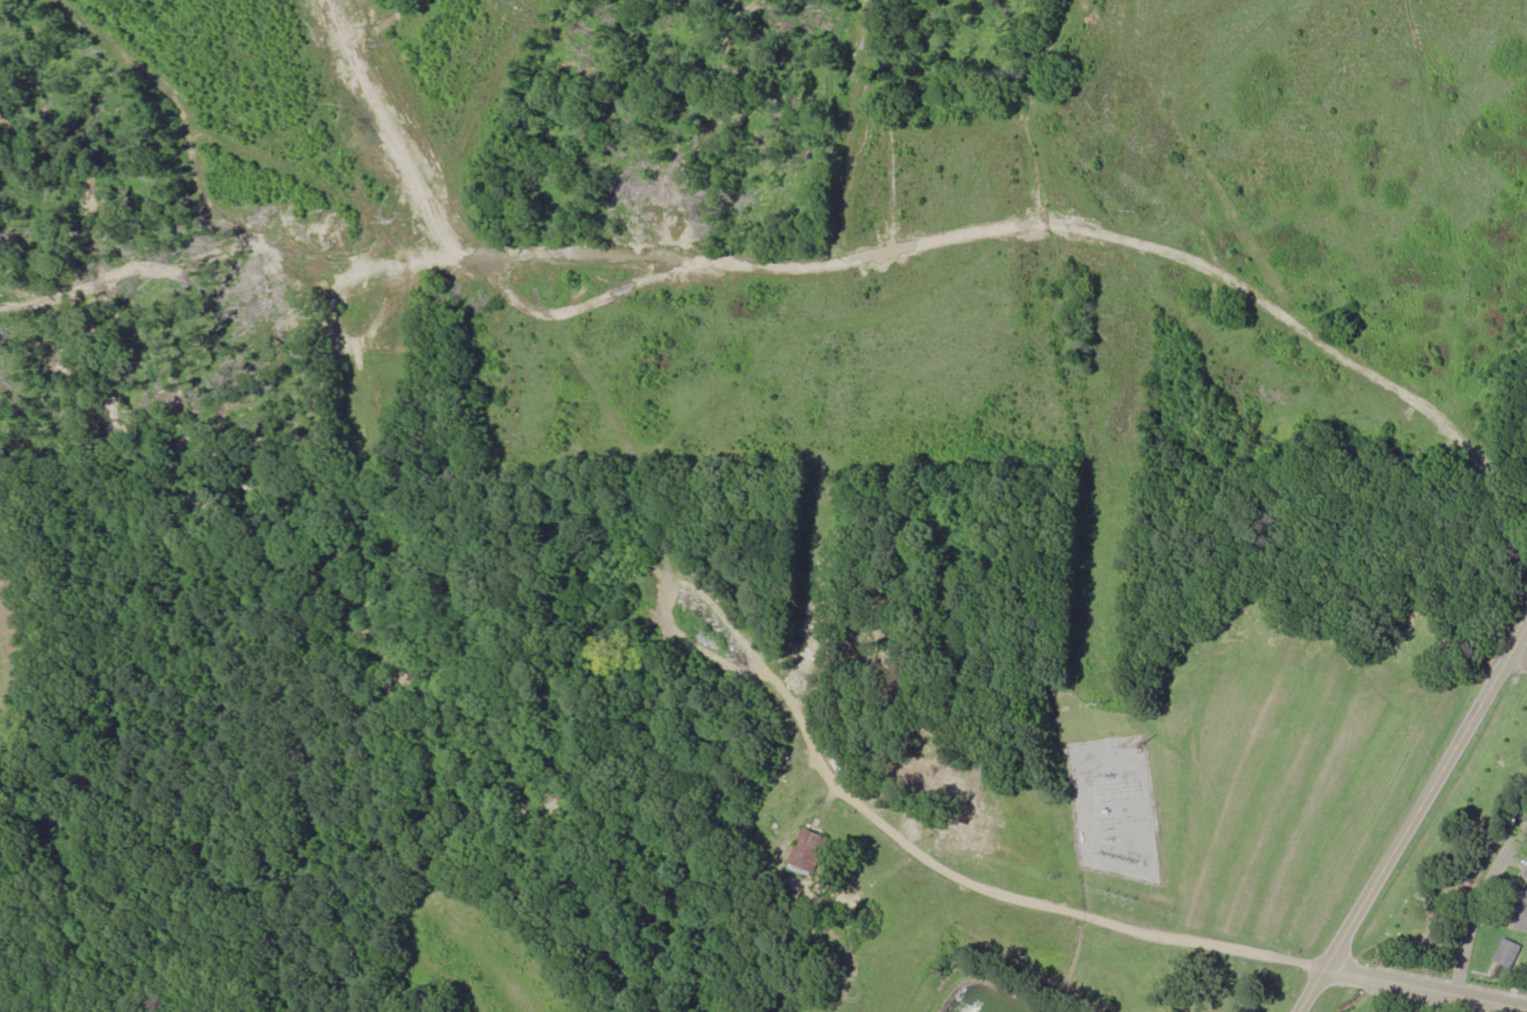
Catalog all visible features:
road: (1519, 658)
road: (1414, 820)
building: (810, 853)
building: (1526, 873)
building: (1526, 876)
road: (1479, 901)
building: (1520, 907)
building: (1506, 960)
road: (1393, 981)
road: (1493, 999)

